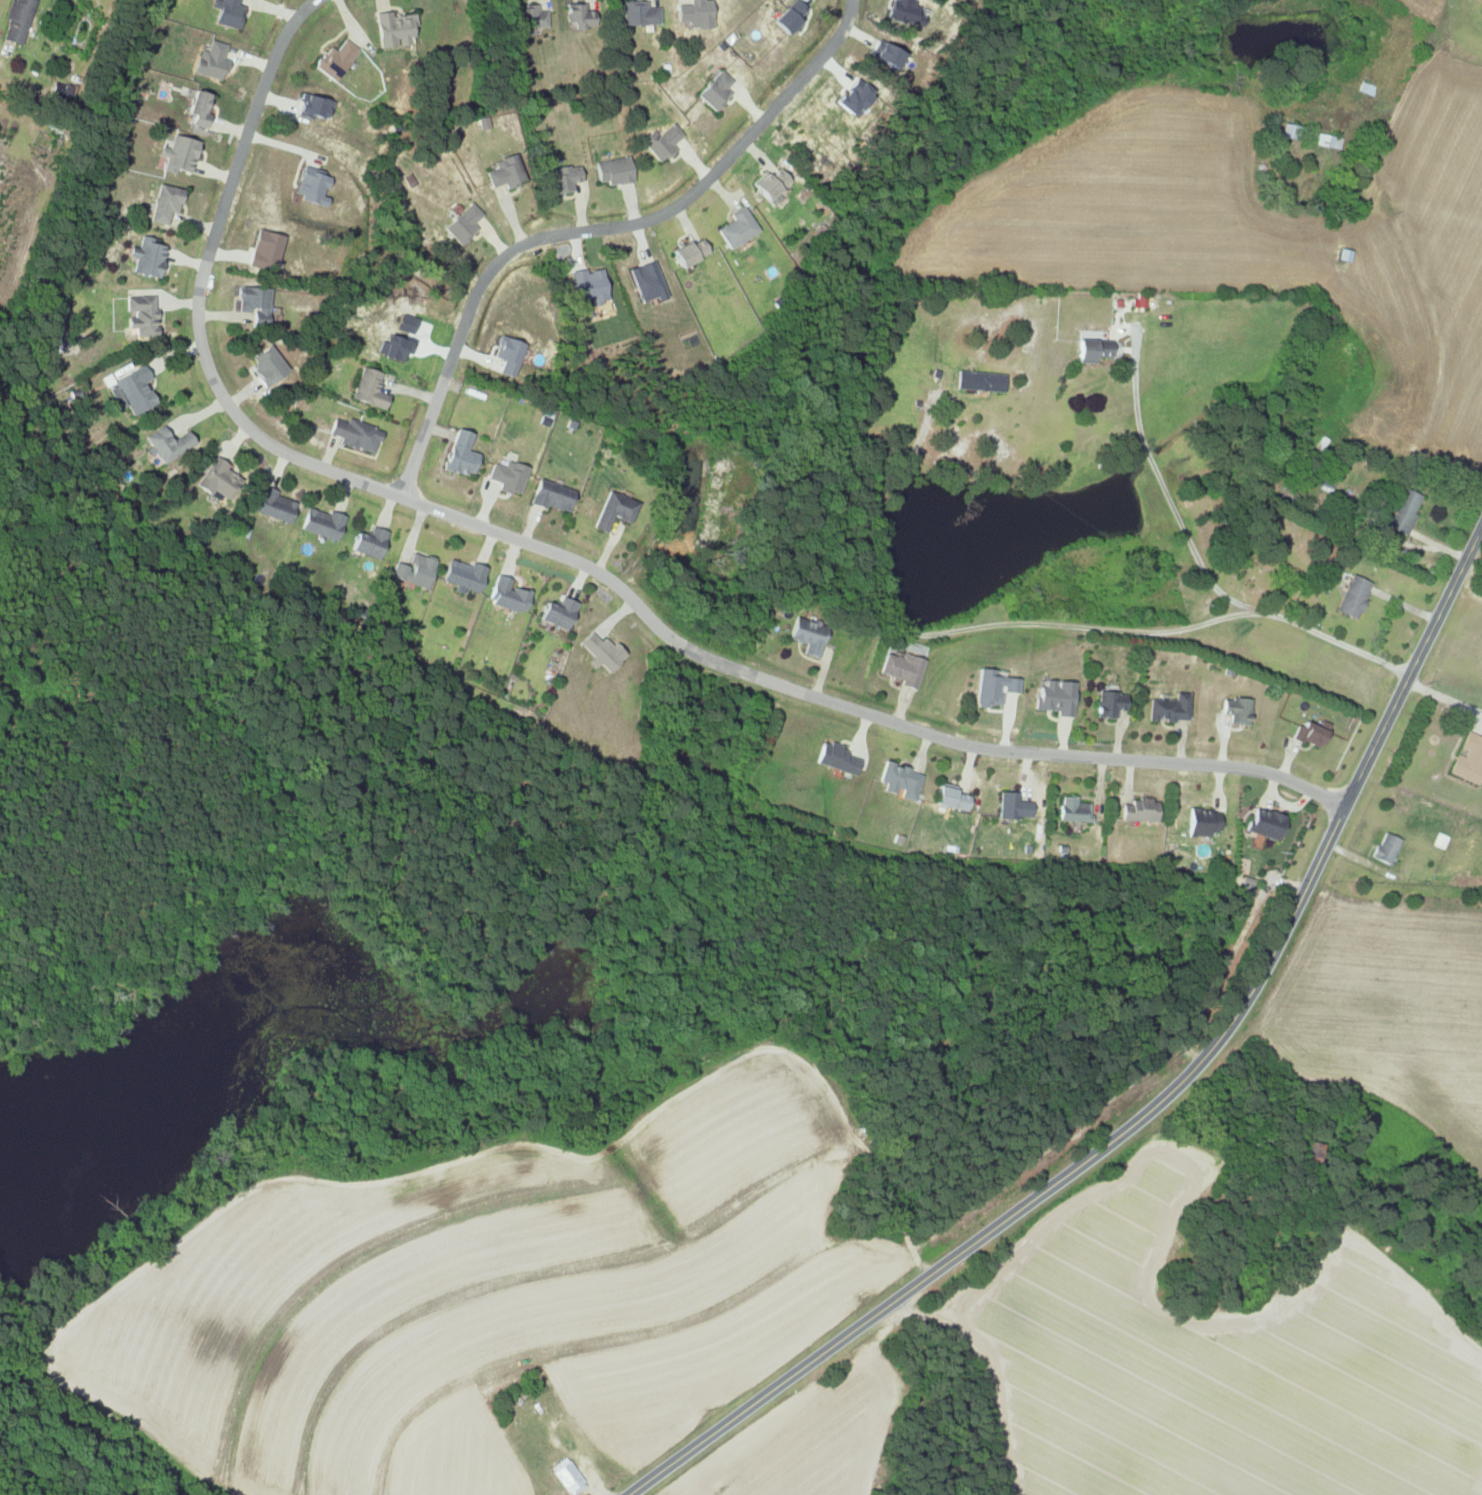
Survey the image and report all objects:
building: (905, 12)
building: (226, 13)
building: (636, 13)
building: (693, 13)
building: (576, 16)
building: (787, 17)
building: (529, 19)
building: (15, 21)
building: (392, 29)
building: (885, 54)
building: (333, 60)
building: (210, 61)
building: (713, 91)
building: (312, 106)
building: (197, 108)
building: (483, 122)
building: (1326, 141)
building: (659, 142)
building: (178, 153)
building: (611, 171)
building: (563, 179)
building: (768, 186)
building: (310, 187)
building: (163, 203)
road: (675, 208)
building: (462, 223)
building: (736, 228)
road: (1397, 239)
building: (263, 251)
building: (687, 253)
building: (146, 258)
building: (646, 281)
building: (588, 285)
building: (252, 304)
building: (139, 316)
building: (406, 320)
building: (392, 346)
building: (1090, 350)
building: (506, 354)
building: (264, 362)
building: (978, 381)
building: (367, 387)
building: (132, 388)
road: (1134, 391)
road: (429, 418)
building: (353, 433)
building: (166, 442)
building: (458, 453)
building: (506, 474)
building: (214, 477)
building: (550, 495)
building: (272, 504)
building: (613, 510)
building: (1401, 510)
building: (320, 523)
building: (367, 541)
road: (574, 566)
building: (416, 570)
building: (461, 575)
building: (506, 594)
building: (1351, 595)
road: (1240, 603)
building: (556, 611)
road: (1085, 624)
building: (806, 636)
building: (600, 650)
building: (901, 668)
building: (990, 686)
road: (1443, 688)
building: (1053, 696)
building: (1106, 703)
building: (1168, 707)
building: (1235, 709)
building: (1308, 733)
building: (833, 757)
building: (1468, 758)
building: (897, 780)
building: (947, 796)
building: (1011, 805)
building: (1072, 808)
building: (1138, 809)
building: (1200, 821)
building: (1263, 822)
building: (1438, 840)
building: (1385, 847)
road: (1161, 1095)
building: (566, 1476)

